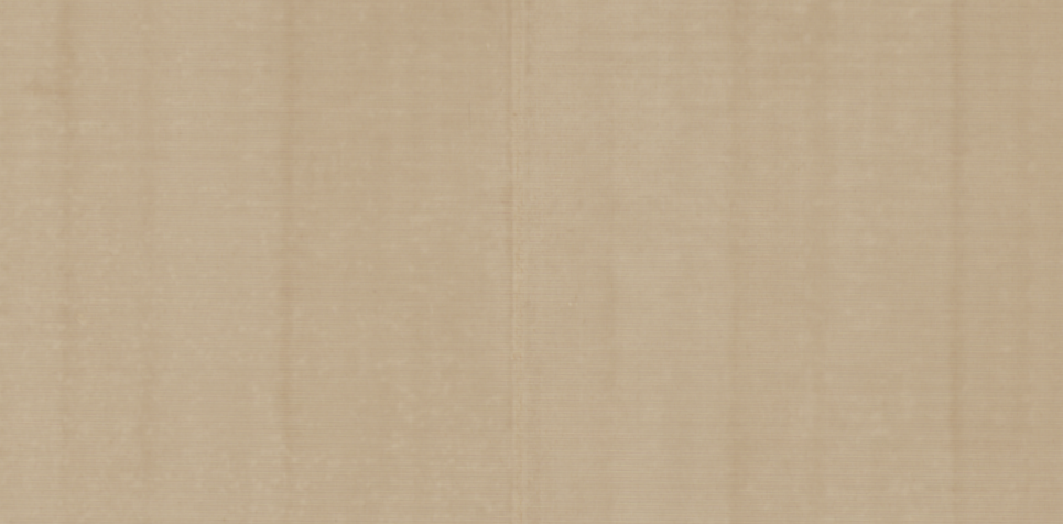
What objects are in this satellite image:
crop: (531, 262)

